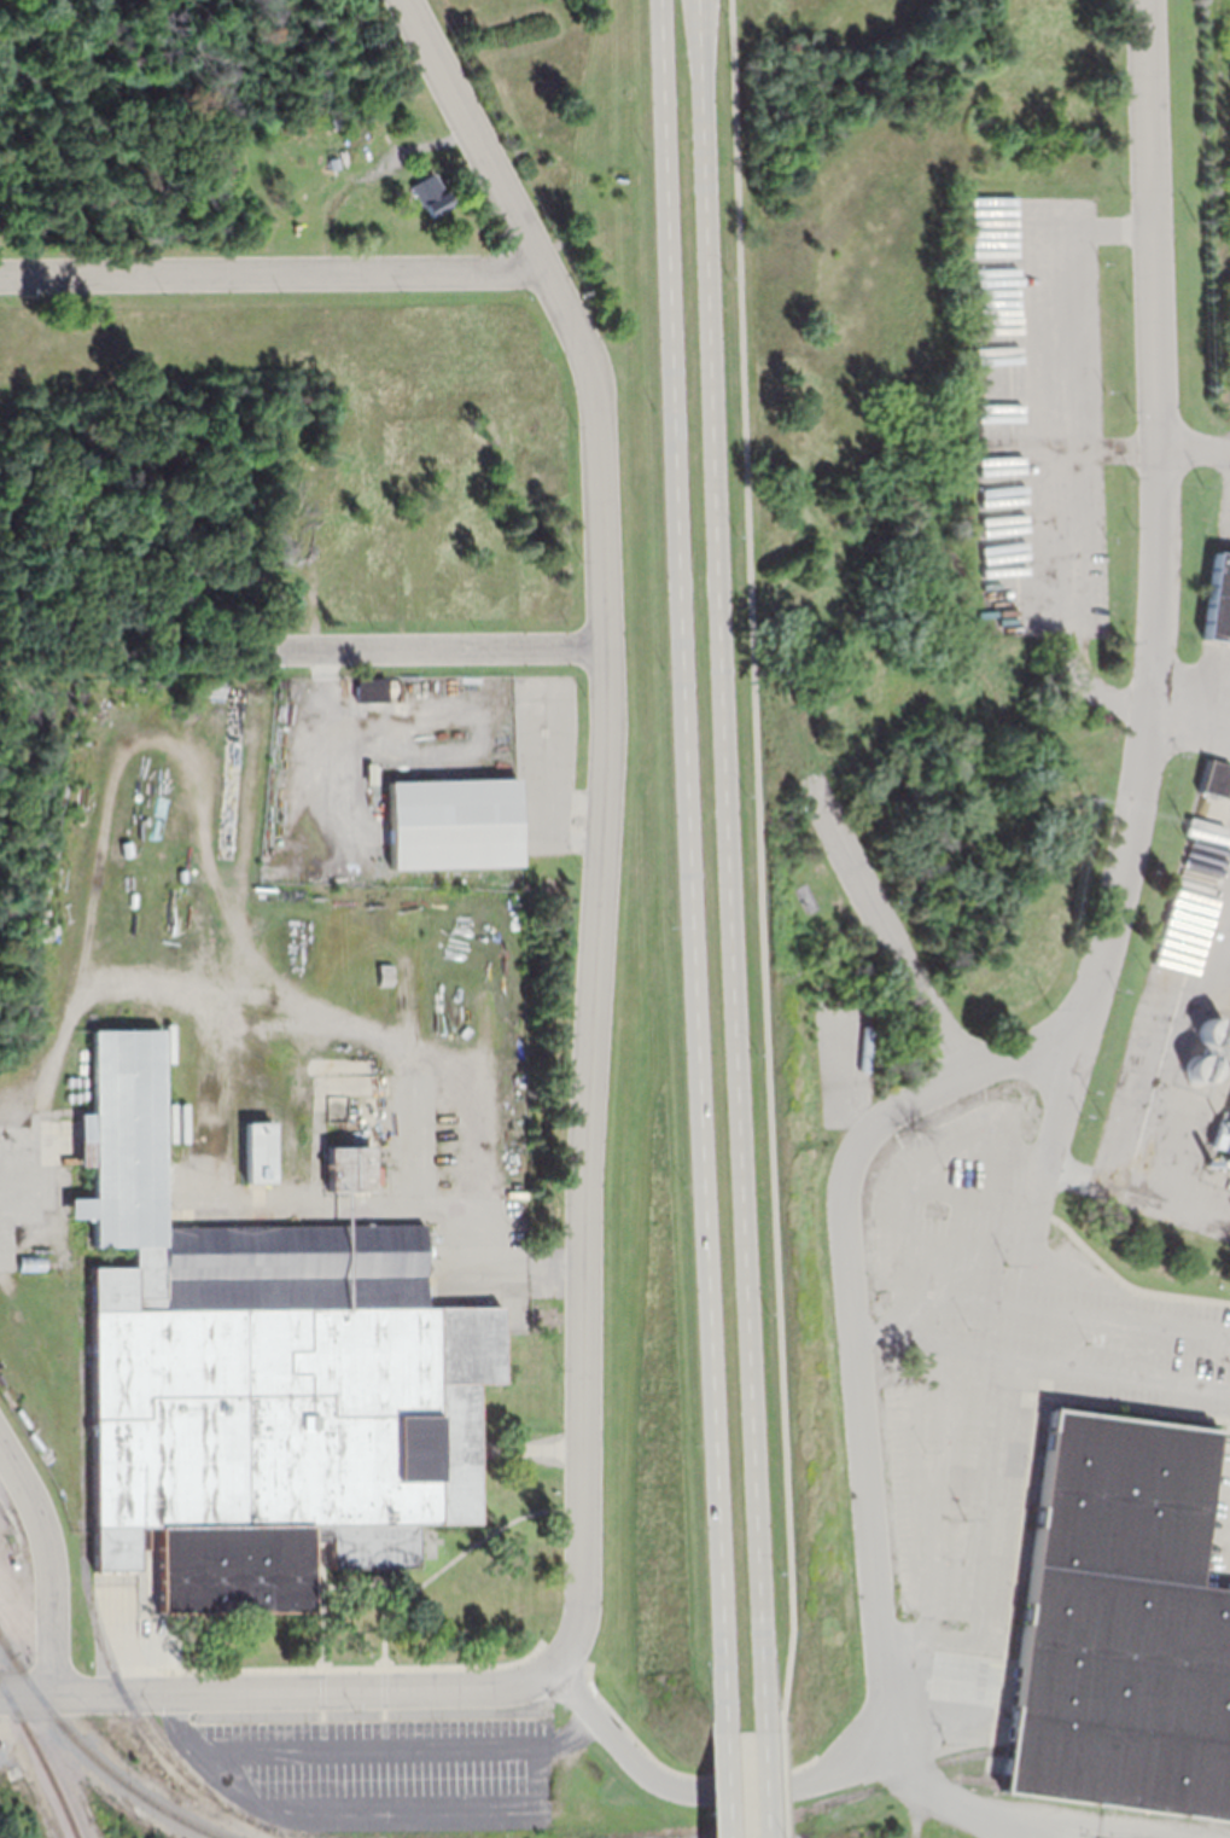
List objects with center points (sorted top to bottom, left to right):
building: (1072, 52)
building: (980, 68)
building: (1037, 80)
road: (500, 184)
building: (430, 194)
building: (996, 246)
road: (272, 271)
road: (1196, 447)
building: (1218, 599)
road: (437, 645)
building: (371, 690)
building: (1216, 777)
building: (453, 824)
road: (727, 863)
road: (759, 863)
road: (689, 865)
road: (1121, 911)
road: (884, 927)
road: (590, 1023)
building: (840, 1034)
building: (1209, 1051)
building: (1225, 1138)
building: (258, 1153)
building: (1229, 1168)
building: (348, 1170)
road: (1062, 1171)
building: (1229, 1174)
building: (261, 1377)
railway: (4, 1517)
road: (48, 1564)
railway: (92, 1610)
road: (21, 1621)
building: (1123, 1624)
railway: (6, 1642)
railway: (6, 1645)
road: (278, 1689)
railway: (42, 1756)
railway: (103, 1763)
railway: (913, 1780)
road: (758, 1782)
road: (779, 1782)
road: (719, 1784)
railway: (864, 1788)
road: (727, 1790)
road: (1013, 1820)

